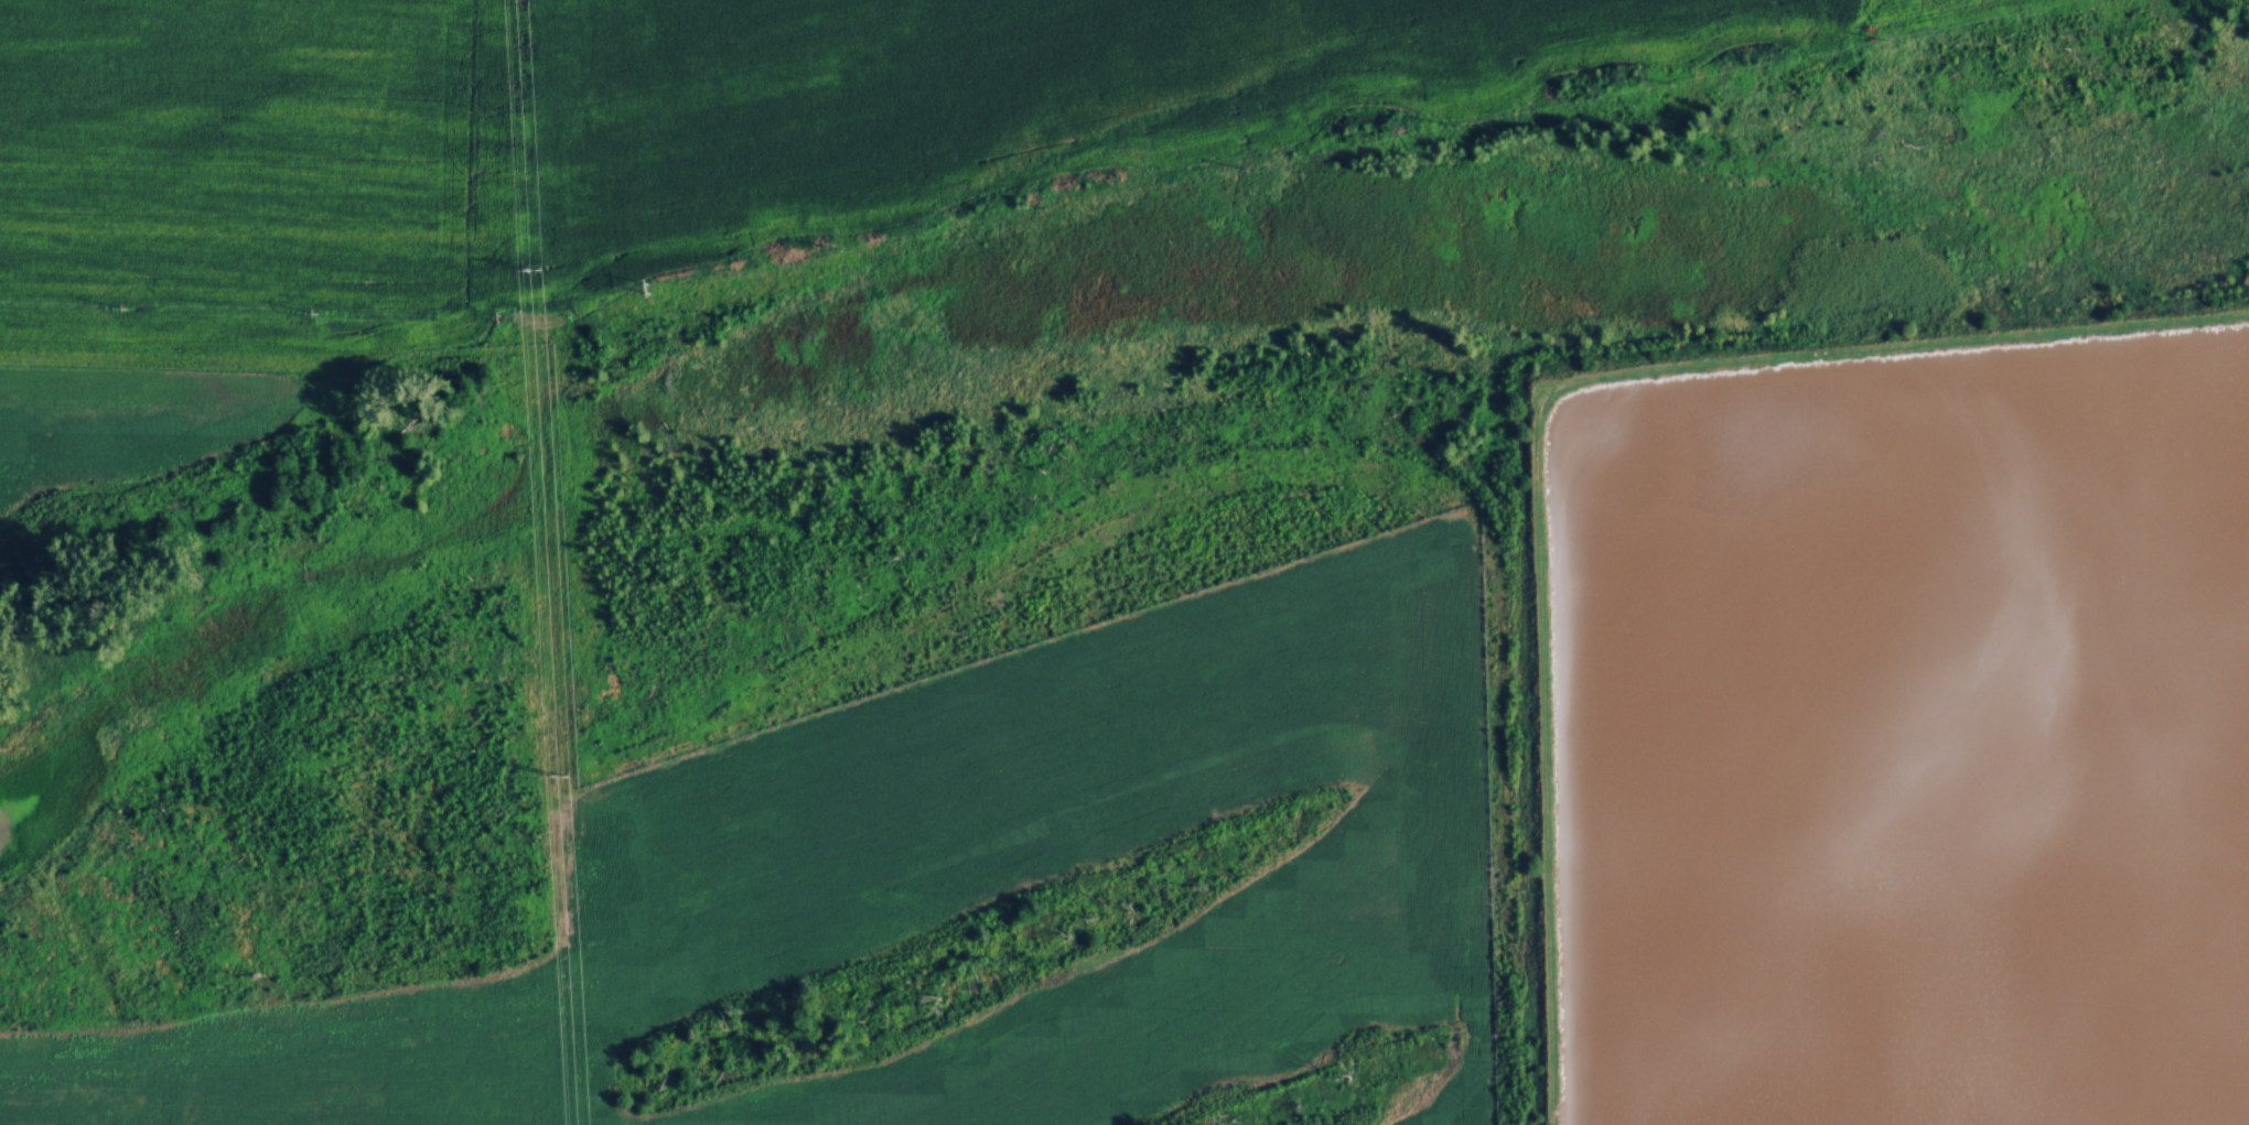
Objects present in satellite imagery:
power tower: (537, 267)
power tower: (652, 285)
power tower: (494, 318)
road: (1541, 402)
power tower: (561, 776)

